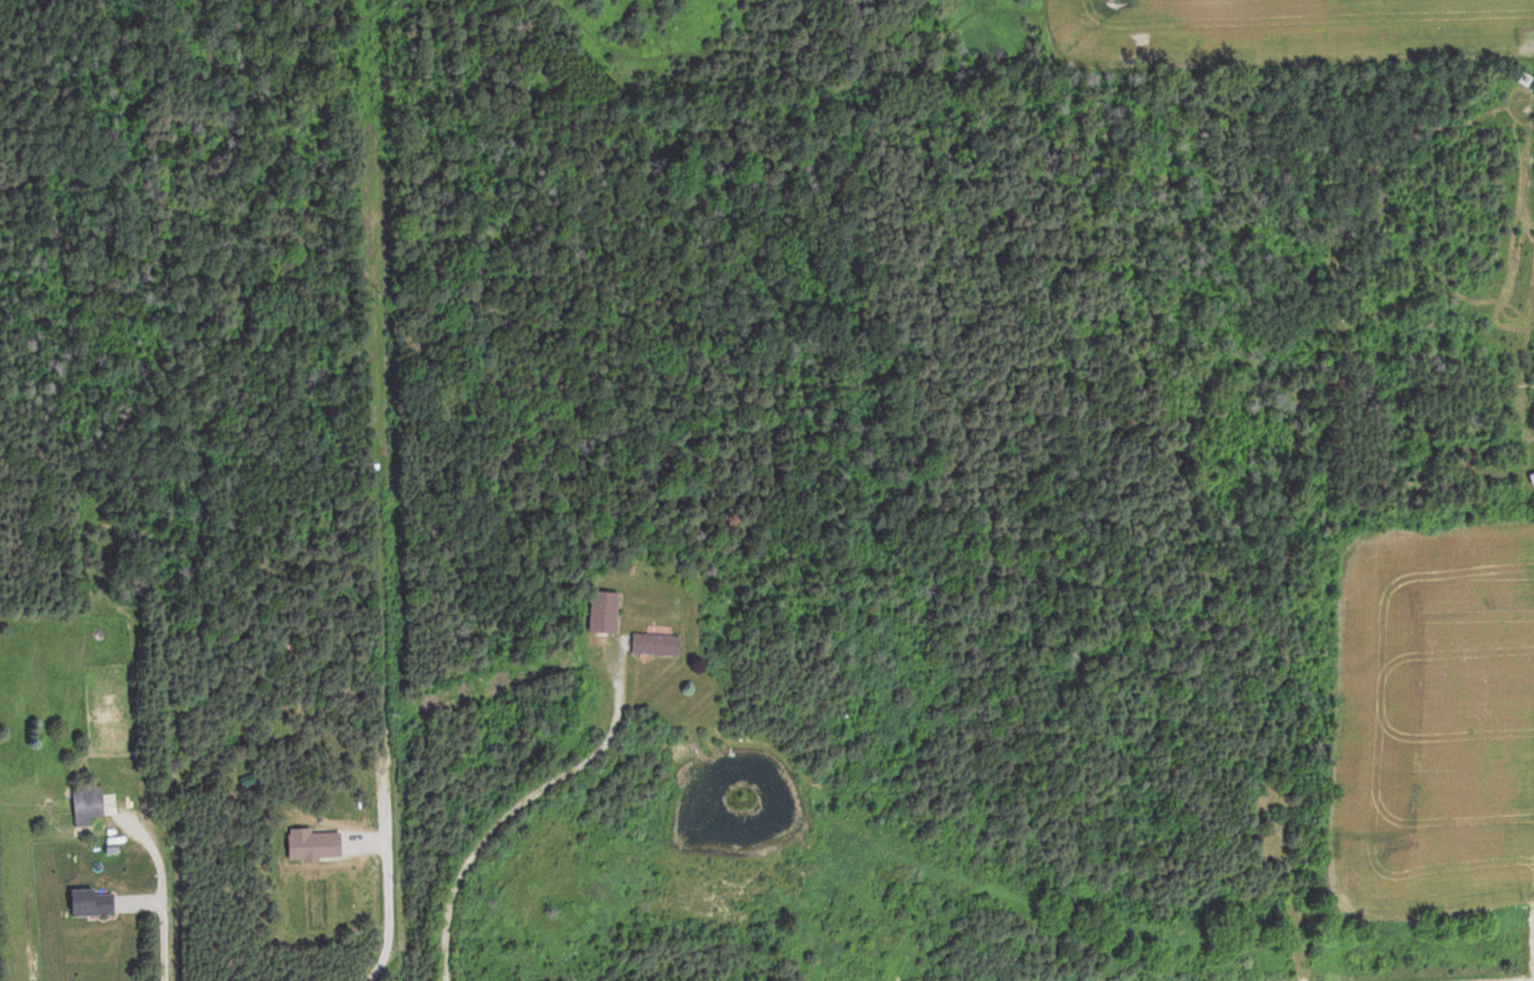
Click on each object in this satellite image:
building: (607, 612)
building: (659, 644)
building: (91, 805)

